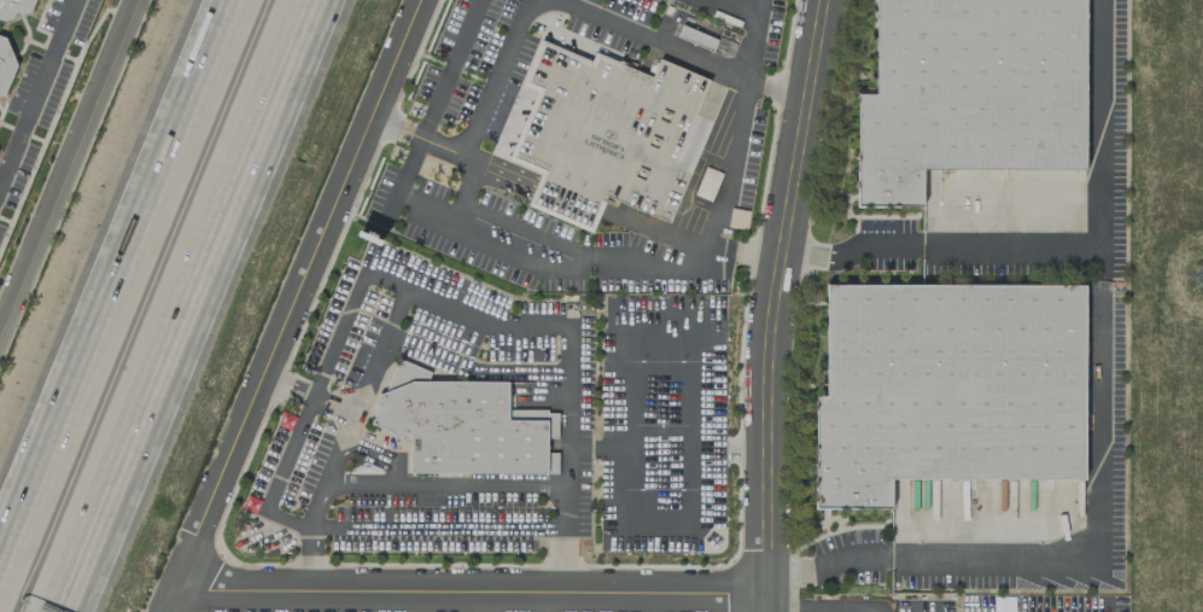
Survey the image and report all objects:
building: (13, 7)
road: (729, 10)
road: (656, 41)
road: (751, 41)
building: (5, 63)
road: (35, 84)
building: (968, 91)
road: (473, 121)
building: (609, 133)
road: (65, 162)
road: (717, 180)
road: (1098, 208)
road: (851, 249)
road: (111, 273)
road: (775, 303)
road: (176, 305)
road: (292, 305)
road: (504, 326)
road: (287, 386)
building: (946, 386)
road: (332, 406)
road: (355, 407)
building: (457, 425)
road: (724, 448)
road: (630, 461)
road: (444, 483)
road: (1098, 492)
building: (897, 507)
road: (562, 560)
road: (829, 564)
road: (469, 591)
road: (485, 602)
road: (542, 602)
road: (824, 611)
road: (824, 611)

